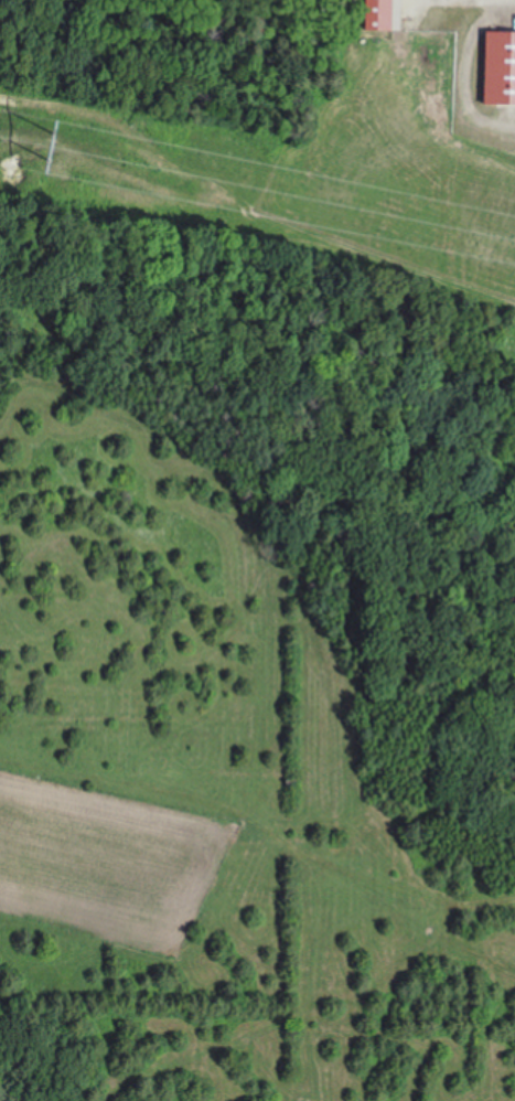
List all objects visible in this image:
building: (374, 15)
building: (496, 70)
power tower: (49, 150)

